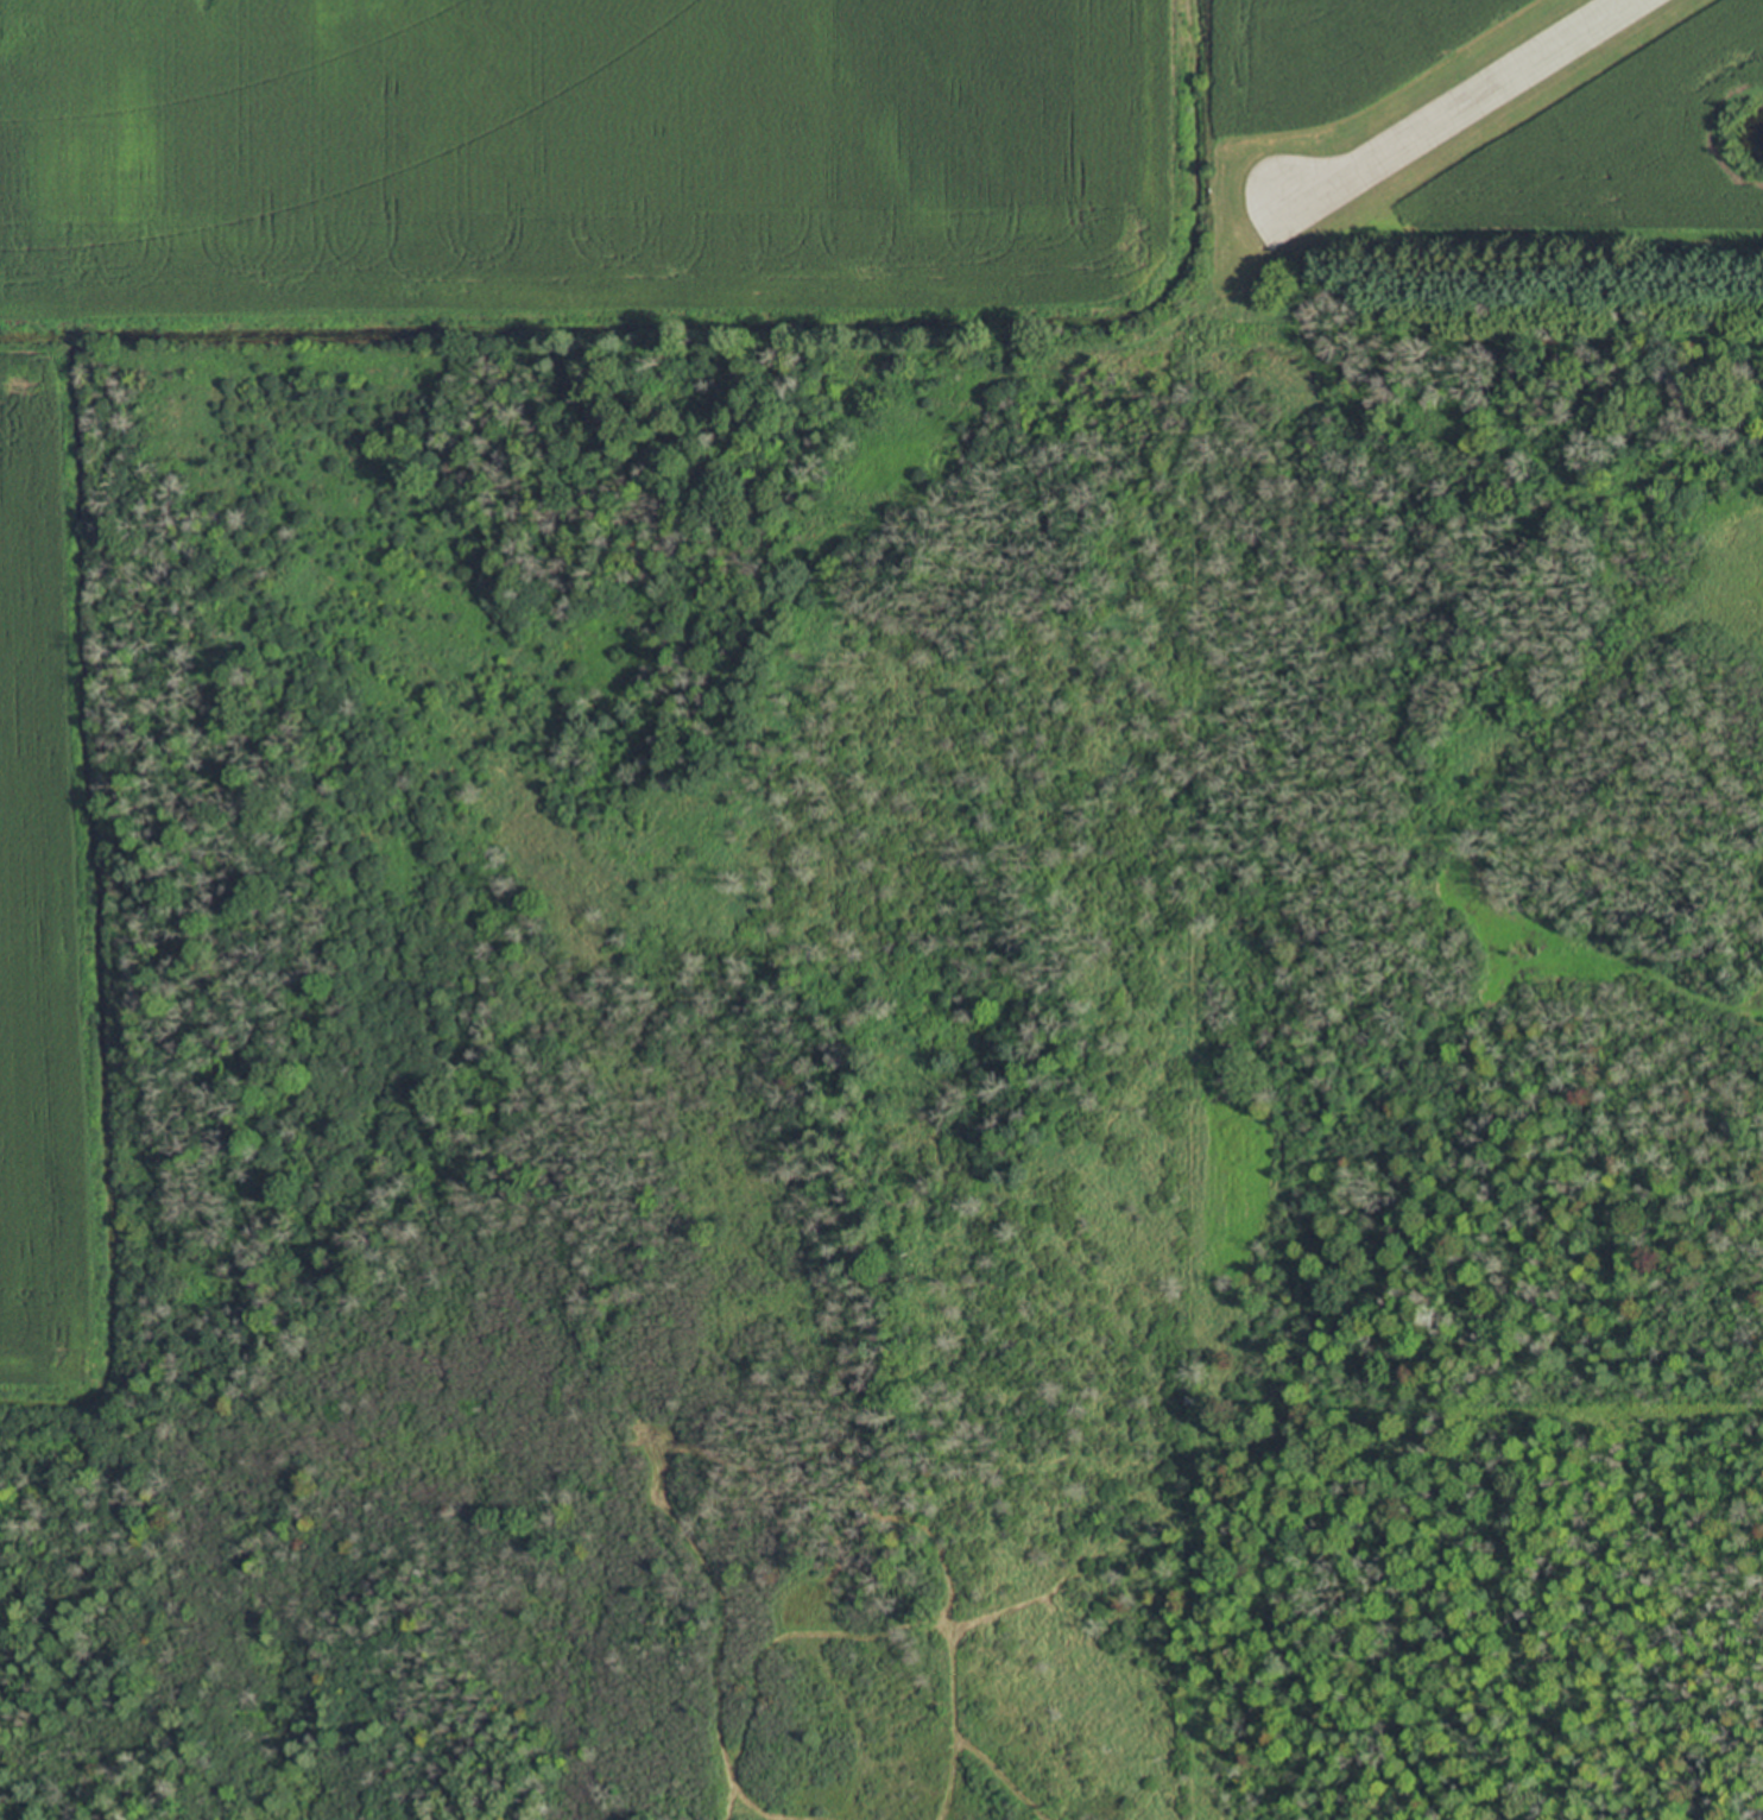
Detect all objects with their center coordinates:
airport runway: (1437, 115)
airport: (1398, 127)
airport taxiway: (1283, 196)
road: (1476, 1351)

